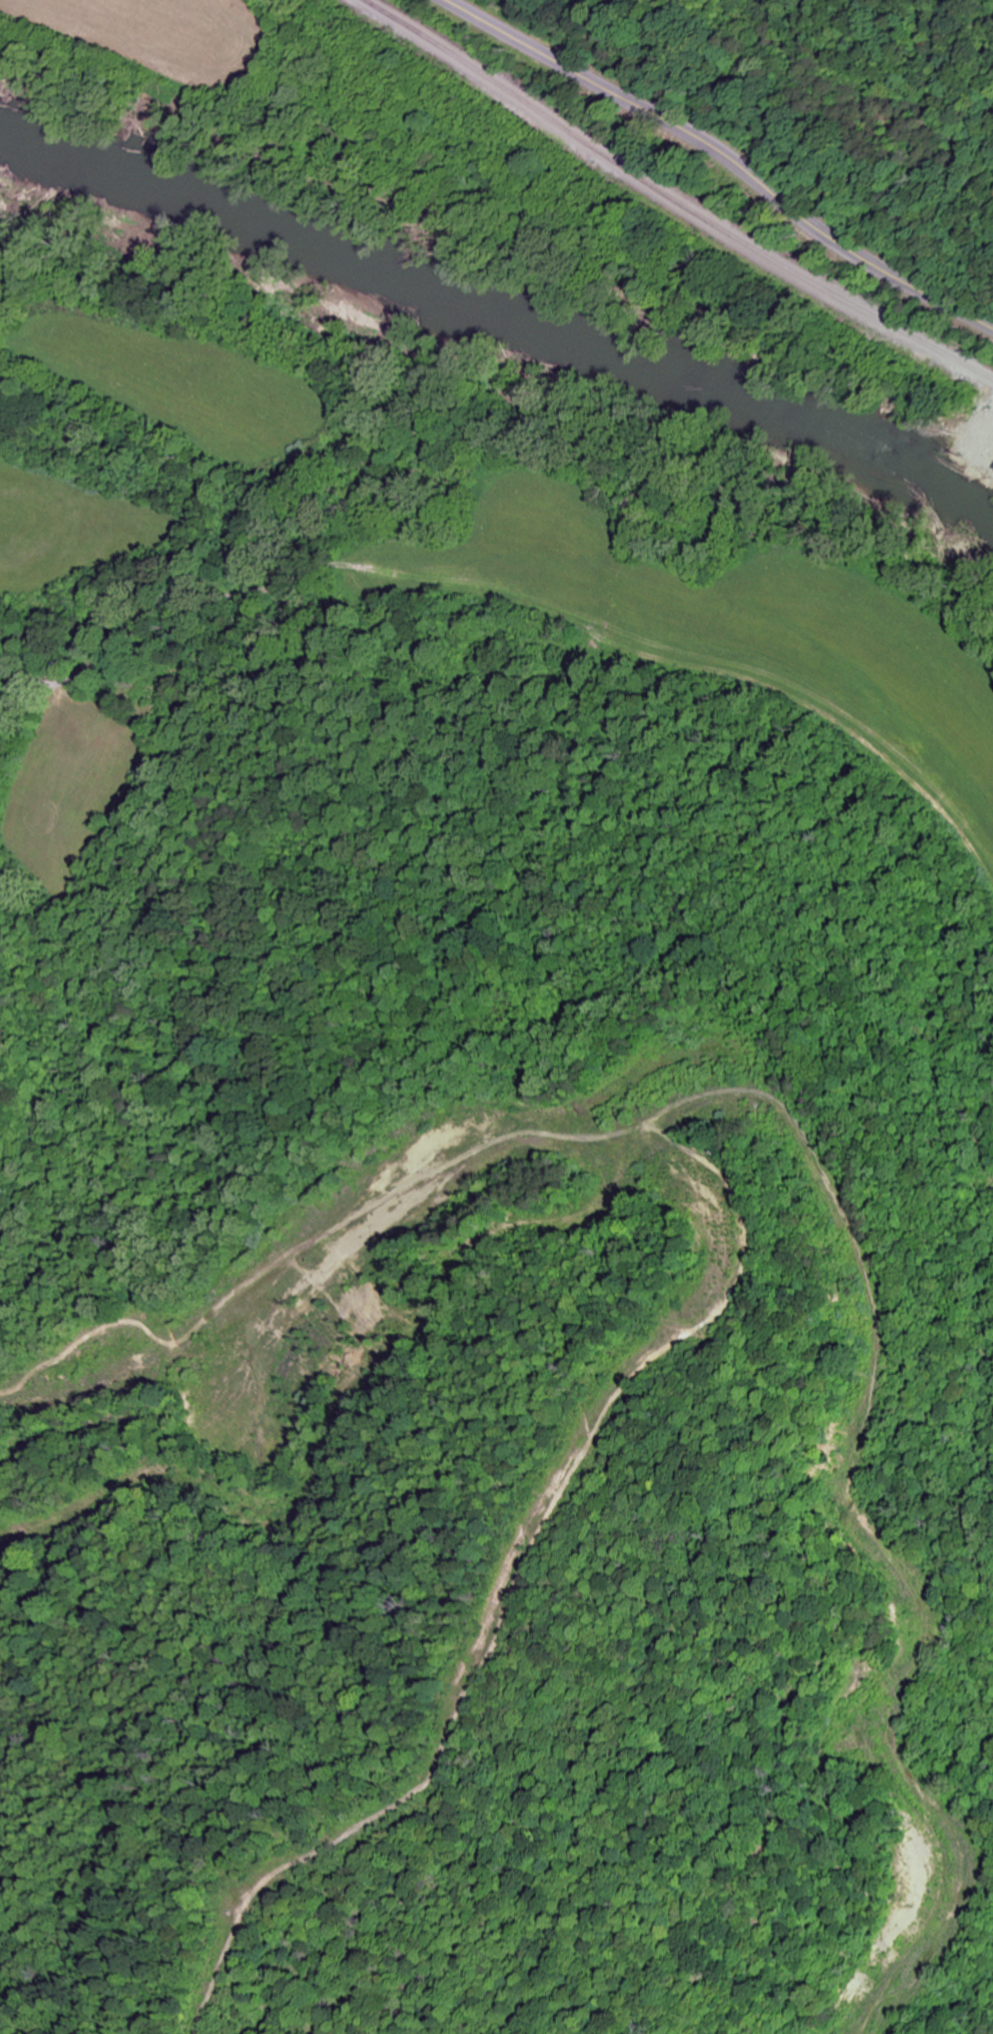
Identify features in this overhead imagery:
road: (720, 156)
railway: (660, 221)
river: (516, 299)

